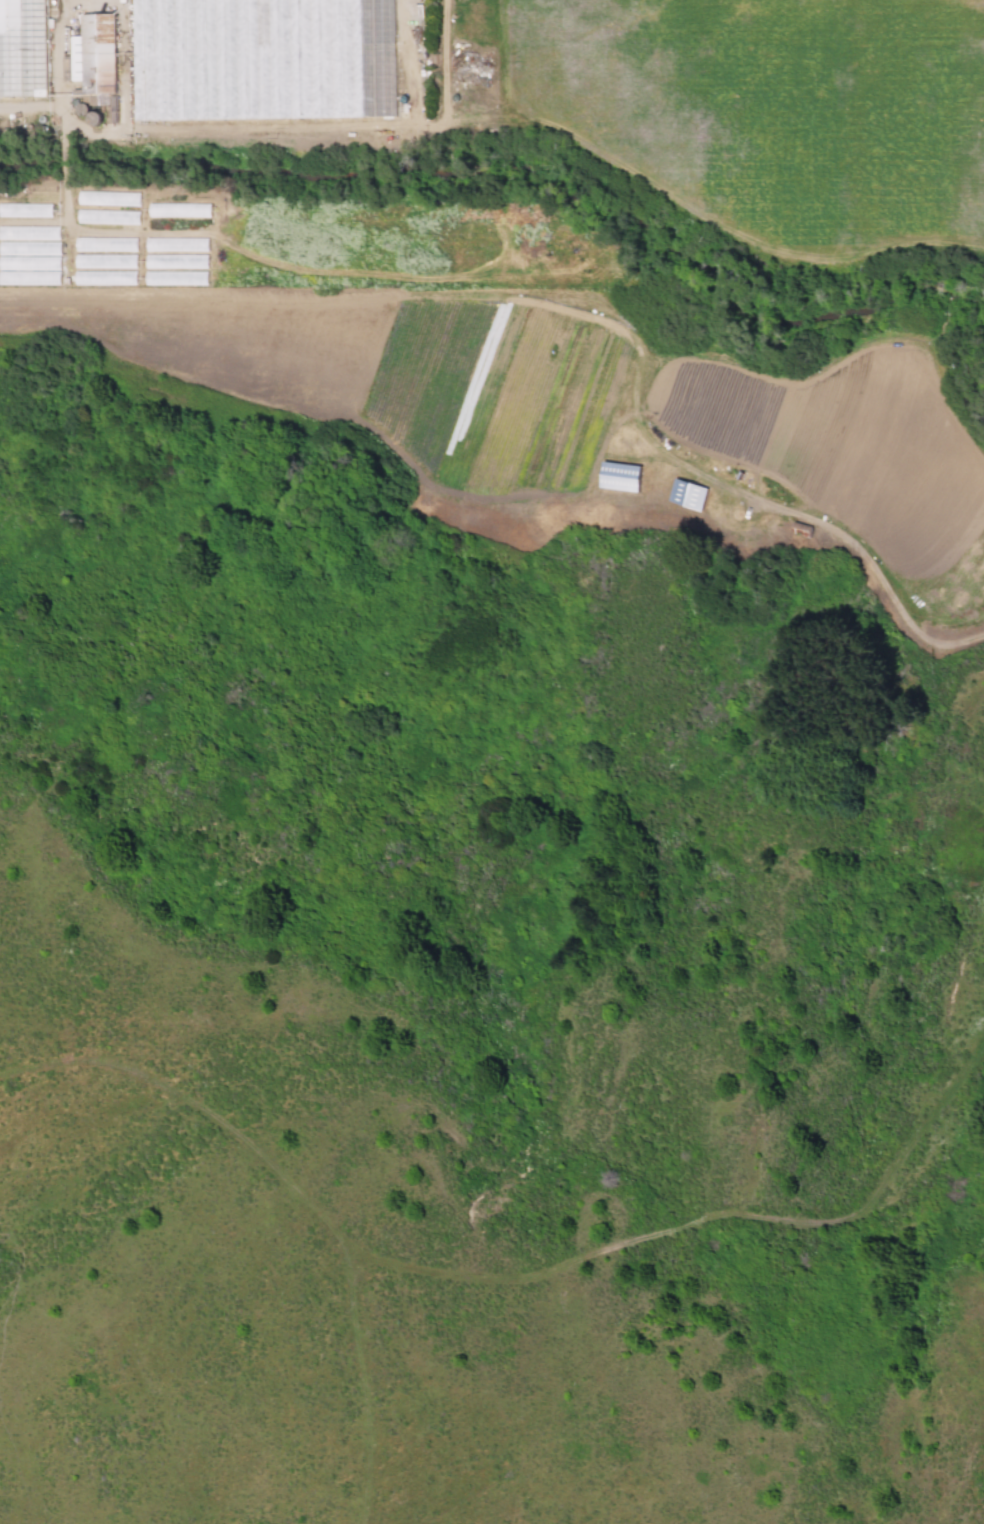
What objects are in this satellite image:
building: (33, 209)
building: (178, 209)
building: (106, 216)
crop: (536, 239)
building: (104, 243)
building: (29, 254)
building: (104, 260)
building: (175, 260)
building: (104, 277)
building: (175, 277)
road: (588, 295)
building: (618, 476)
building: (685, 494)
road: (504, 1287)
road: (356, 1384)

